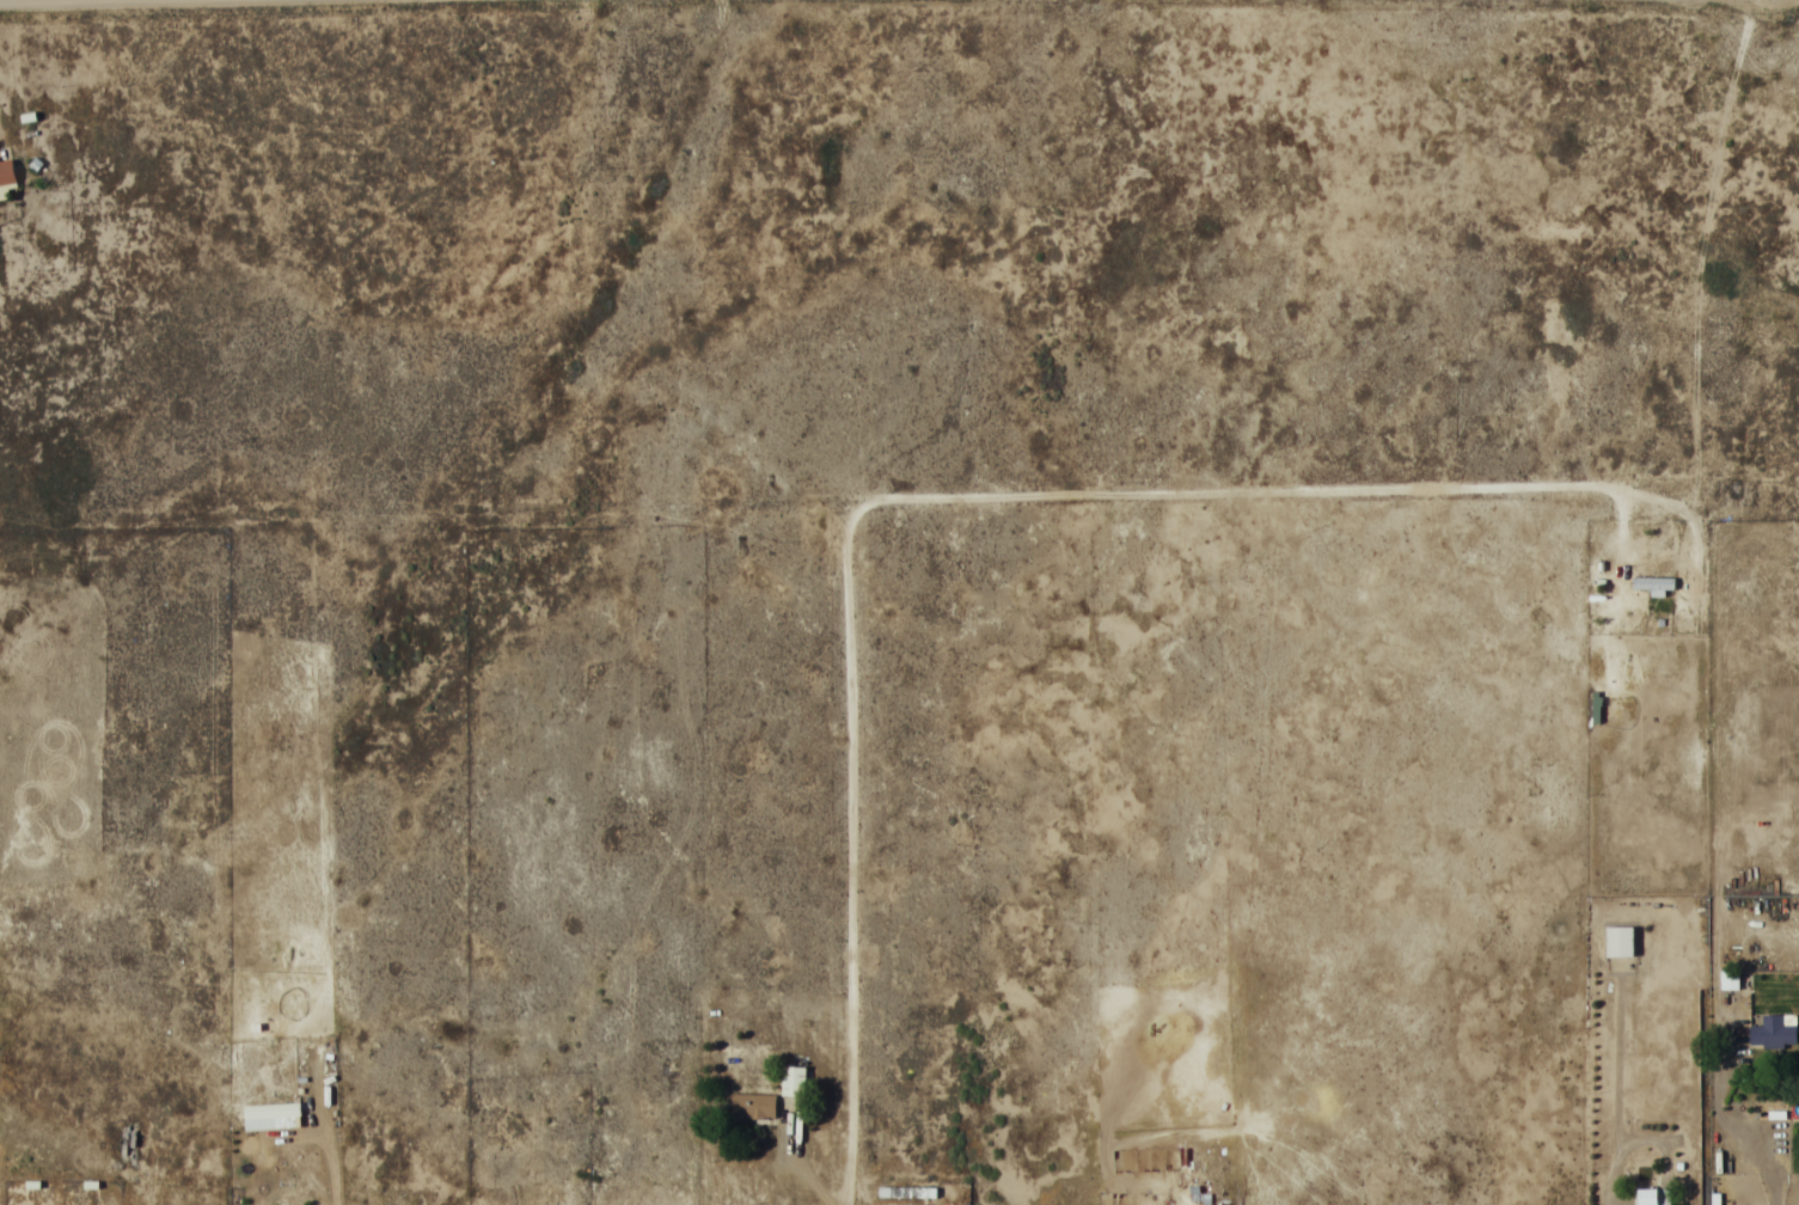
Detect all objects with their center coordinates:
road: (17, 0)
building: (6, 172)
road: (826, 330)
road: (1230, 493)
building: (1653, 582)
road: (856, 854)
building: (1619, 942)
building: (1728, 979)
building: (1774, 1030)
building: (793, 1081)
building: (752, 1105)
building: (271, 1111)
building: (907, 1192)
building: (1651, 1197)

